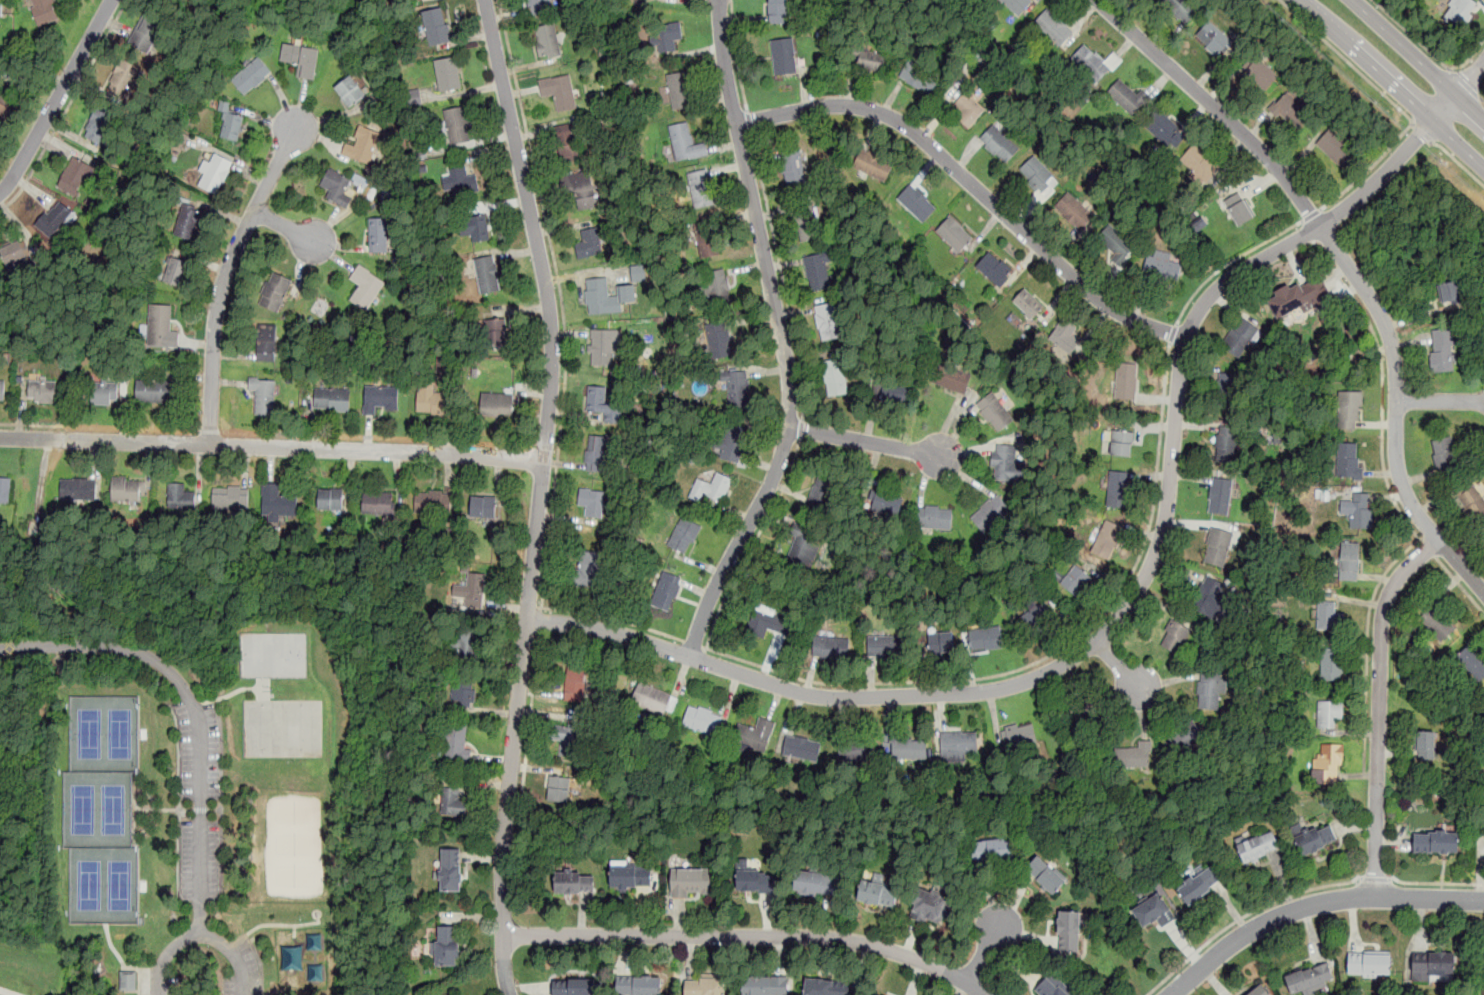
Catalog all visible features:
building: (173, 2)
building: (1016, 5)
building: (539, 6)
building: (1184, 7)
building: (1, 8)
building: (45, 11)
building: (777, 11)
building: (1459, 11)
building: (436, 27)
building: (1053, 27)
building: (146, 33)
building: (665, 34)
road: (1411, 34)
building: (1214, 37)
building: (548, 39)
building: (784, 55)
road: (736, 56)
road: (1470, 58)
building: (301, 59)
building: (873, 60)
road: (1418, 60)
building: (1089, 63)
building: (1259, 71)
building: (446, 75)
building: (251, 76)
building: (920, 76)
building: (124, 79)
road: (1393, 83)
road: (1465, 83)
building: (350, 90)
building: (679, 90)
building: (559, 91)
building: (948, 95)
building: (1128, 97)
road: (57, 98)
road: (1482, 99)
road: (1394, 104)
building: (224, 106)
road: (68, 108)
building: (1290, 108)
building: (968, 109)
road: (749, 121)
building: (98, 125)
building: (231, 126)
building: (457, 126)
building: (1165, 127)
road: (1422, 133)
building: (684, 141)
building: (569, 142)
building: (998, 142)
building: (362, 146)
building: (1336, 148)
road: (1457, 160)
building: (1199, 162)
building: (874, 165)
building: (793, 166)
building: (214, 174)
building: (74, 175)
building: (1039, 177)
building: (463, 181)
building: (336, 186)
road: (972, 186)
building: (699, 188)
building: (579, 192)
building: (916, 203)
building: (1238, 209)
building: (1075, 211)
building: (51, 215)
road: (1312, 215)
building: (804, 219)
building: (188, 224)
road: (282, 225)
building: (473, 229)
building: (954, 233)
building: (378, 235)
building: (708, 238)
building: (589, 244)
building: (1117, 244)
building: (13, 253)
road: (1229, 262)
building: (1162, 264)
road: (1348, 266)
building: (994, 269)
building: (816, 271)
building: (172, 272)
road: (226, 273)
building: (638, 273)
building: (486, 275)
road: (782, 275)
building: (716, 287)
building: (365, 288)
building: (275, 292)
building: (1449, 293)
building: (606, 296)
building: (1298, 297)
road: (561, 301)
building: (1027, 303)
road: (552, 306)
building: (827, 320)
building: (159, 326)
building: (495, 331)
road: (1172, 333)
building: (1065, 335)
building: (1239, 336)
road: (779, 337)
building: (719, 339)
building: (266, 343)
building: (601, 347)
building: (1442, 350)
building: (834, 376)
building: (951, 378)
building: (1125, 381)
building: (736, 385)
road: (1382, 386)
building: (1226, 390)
building: (2, 391)
building: (154, 391)
building: (42, 392)
building: (894, 393)
building: (262, 394)
building: (103, 395)
building: (379, 397)
building: (332, 399)
building: (429, 399)
road: (1440, 402)
building: (497, 404)
building: (603, 405)
building: (1349, 409)
building: (994, 412)
road: (100, 427)
road: (801, 430)
road: (210, 431)
road: (377, 436)
building: (732, 442)
road: (864, 443)
building: (1122, 443)
building: (1226, 444)
road: (272, 446)
road: (547, 449)
building: (597, 453)
building: (1444, 454)
building: (1346, 460)
building: (1009, 464)
building: (77, 488)
building: (1118, 488)
building: (128, 489)
building: (711, 489)
building: (5, 490)
building: (821, 492)
building: (1220, 495)
building: (180, 496)
building: (230, 497)
building: (330, 499)
building: (1470, 499)
building: (277, 500)
building: (432, 502)
building: (591, 502)
building: (377, 504)
building: (887, 504)
building: (483, 507)
building: (1360, 511)
building: (989, 513)
building: (934, 517)
building: (685, 534)
building: (1483, 538)
building: (1106, 539)
road: (752, 545)
building: (1218, 547)
road: (1429, 548)
building: (803, 549)
building: (1349, 561)
building: (587, 568)
building: (1075, 579)
road: (1140, 583)
road: (1458, 585)
building: (474, 589)
building: (666, 590)
building: (1209, 598)
building: (1329, 616)
road: (612, 617)
road: (540, 619)
building: (1037, 620)
building: (1438, 622)
building: (766, 623)
building: (1175, 637)
building: (986, 638)
building: (466, 641)
road: (693, 643)
building: (936, 643)
building: (886, 646)
road: (1367, 646)
building: (830, 647)
park: (273, 652)
road: (1050, 656)
building: (1472, 661)
road: (1119, 664)
building: (1331, 665)
building: (574, 683)
building: (1210, 690)
building: (463, 691)
building: (651, 698)
building: (1083, 708)
road: (1379, 708)
road: (195, 709)
road: (531, 712)
building: (1328, 713)
building: (703, 720)
park: (282, 727)
park: (90, 732)
park: (120, 732)
building: (755, 735)
building: (1019, 735)
building: (1185, 737)
building: (566, 738)
building: (457, 742)
building: (1425, 745)
building: (957, 746)
building: (802, 748)
building: (909, 748)
building: (856, 749)
building: (1135, 753)
building: (1327, 764)
park: (200, 772)
road: (509, 776)
building: (562, 787)
parking lot: (204, 796)
building: (450, 801)
park: (113, 807)
park: (84, 808)
building: (1317, 839)
building: (1436, 842)
park: (293, 843)
building: (1257, 846)
building: (993, 850)
building: (450, 870)
building: (1046, 875)
building: (631, 876)
road: (1376, 879)
building: (691, 881)
building: (755, 881)
building: (574, 882)
road: (1432, 883)
park: (90, 884)
building: (817, 884)
building: (1200, 884)
park: (120, 885)
building: (876, 893)
road: (1314, 904)
building: (932, 905)
building: (1153, 912)
road: (1247, 915)
road: (201, 933)
building: (1069, 933)
road: (746, 937)
building: (447, 946)
road: (981, 954)
park: (306, 958)
building: (1369, 964)
building: (1434, 964)
road: (503, 965)
park: (1479, 965)
parking lot: (245, 968)
park: (29, 969)
building: (1310, 979)
building: (128, 981)
parking lot: (166, 982)
building: (766, 985)
building: (639, 986)
building: (704, 986)
building: (574, 987)
building: (825, 987)
building: (1052, 987)
building: (1258, 991)
building: (878, 994)

